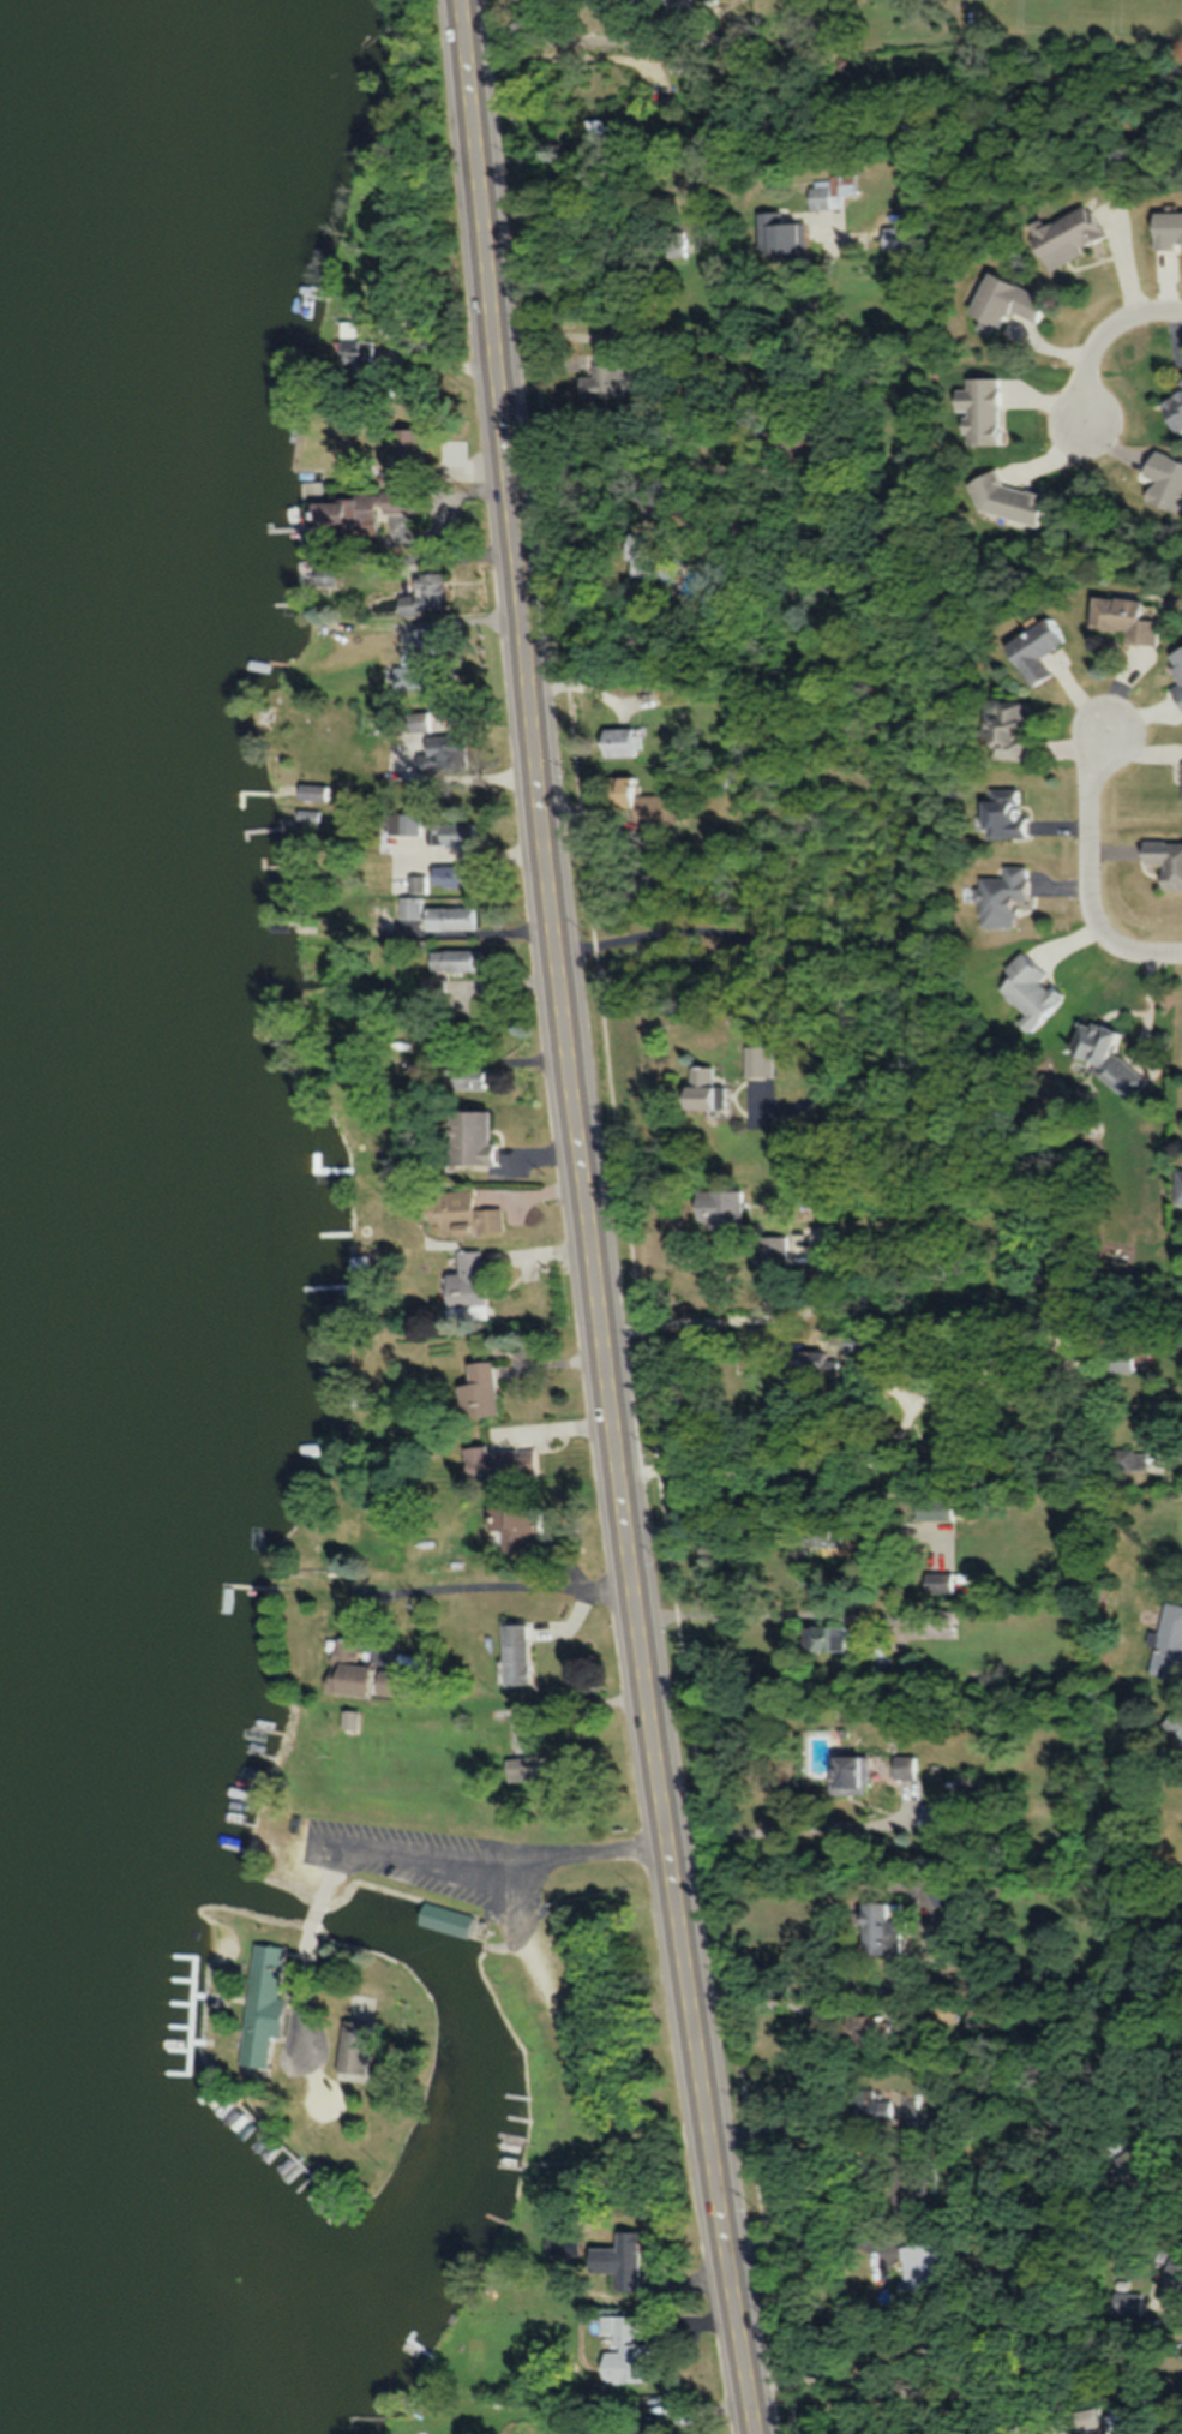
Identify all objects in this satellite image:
building: (654, 13)
road: (574, 40)
building: (608, 128)
building: (836, 190)
building: (1068, 234)
building: (788, 235)
building: (896, 237)
building: (1002, 300)
road: (1110, 337)
building: (608, 377)
building: (1172, 408)
building: (979, 409)
building: (406, 455)
building: (1007, 501)
building: (356, 513)
building: (658, 557)
building: (318, 574)
building: (1123, 618)
building: (1036, 650)
building: (1177, 672)
building: (414, 677)
building: (1006, 730)
building: (622, 741)
building: (450, 753)
building: (731, 777)
building: (1181, 782)
building: (1004, 814)
building: (410, 824)
building: (462, 833)
building: (1163, 861)
road: (1088, 871)
building: (458, 875)
building: (420, 883)
building: (1001, 896)
building: (413, 907)
building: (456, 917)
building: (460, 959)
building: (437, 988)
building: (1027, 991)
building: (439, 1030)
building: (1104, 1058)
building: (764, 1060)
building: (470, 1077)
building: (715, 1088)
building: (475, 1137)
building: (1177, 1186)
building: (727, 1210)
building: (470, 1213)
road: (592, 1219)
road: (845, 1224)
river: (26, 1233)
building: (778, 1250)
building: (474, 1290)
building: (1128, 1357)
building: (818, 1366)
building: (486, 1389)
road: (868, 1459)
building: (508, 1463)
building: (935, 1507)
building: (520, 1529)
building: (820, 1537)
road: (954, 1545)
building: (930, 1622)
building: (823, 1637)
building: (1169, 1641)
building: (524, 1653)
building: (1175, 1723)
building: (565, 1736)
building: (1181, 1754)
building: (851, 1769)
road: (419, 1848)
road: (550, 1850)
road: (332, 1861)
road: (314, 1909)
building: (446, 1918)
building: (880, 1927)
road: (305, 1980)
road: (811, 1989)
building: (263, 1992)
road: (785, 2005)
building: (864, 2029)
building: (356, 2037)
building: (874, 2107)
building: (1136, 2159)
building: (562, 2220)
building: (632, 2260)
building: (1172, 2271)
building: (1126, 2303)
building: (634, 2351)
building: (1090, 2424)
building: (658, 2426)

